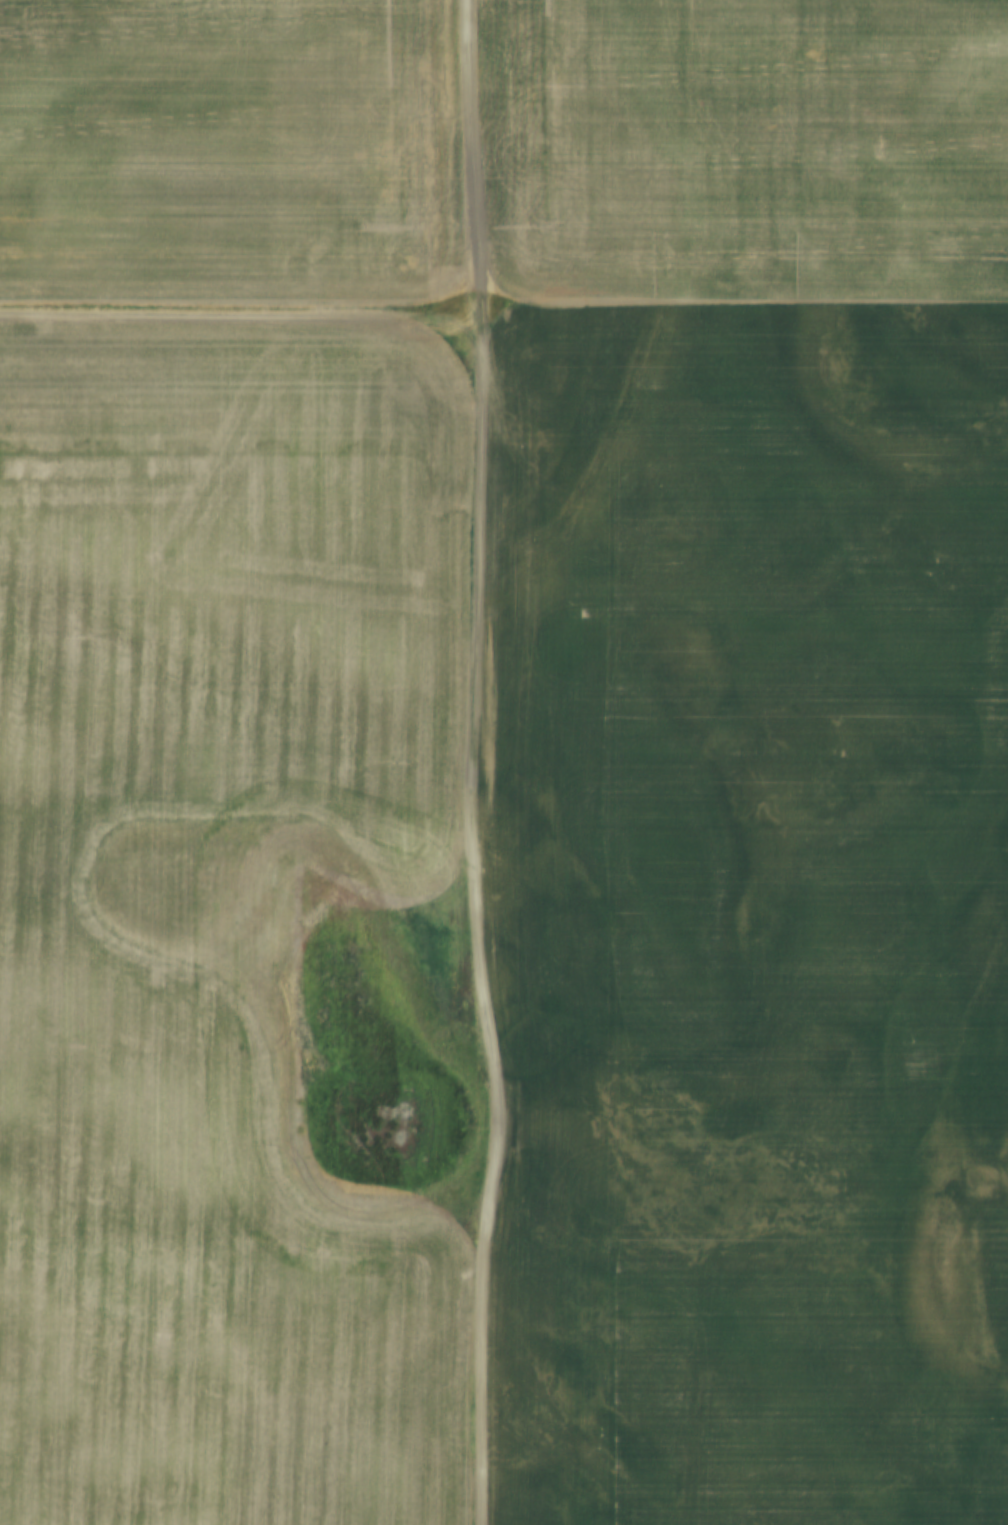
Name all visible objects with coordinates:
road: (503, 309)
road: (487, 762)

